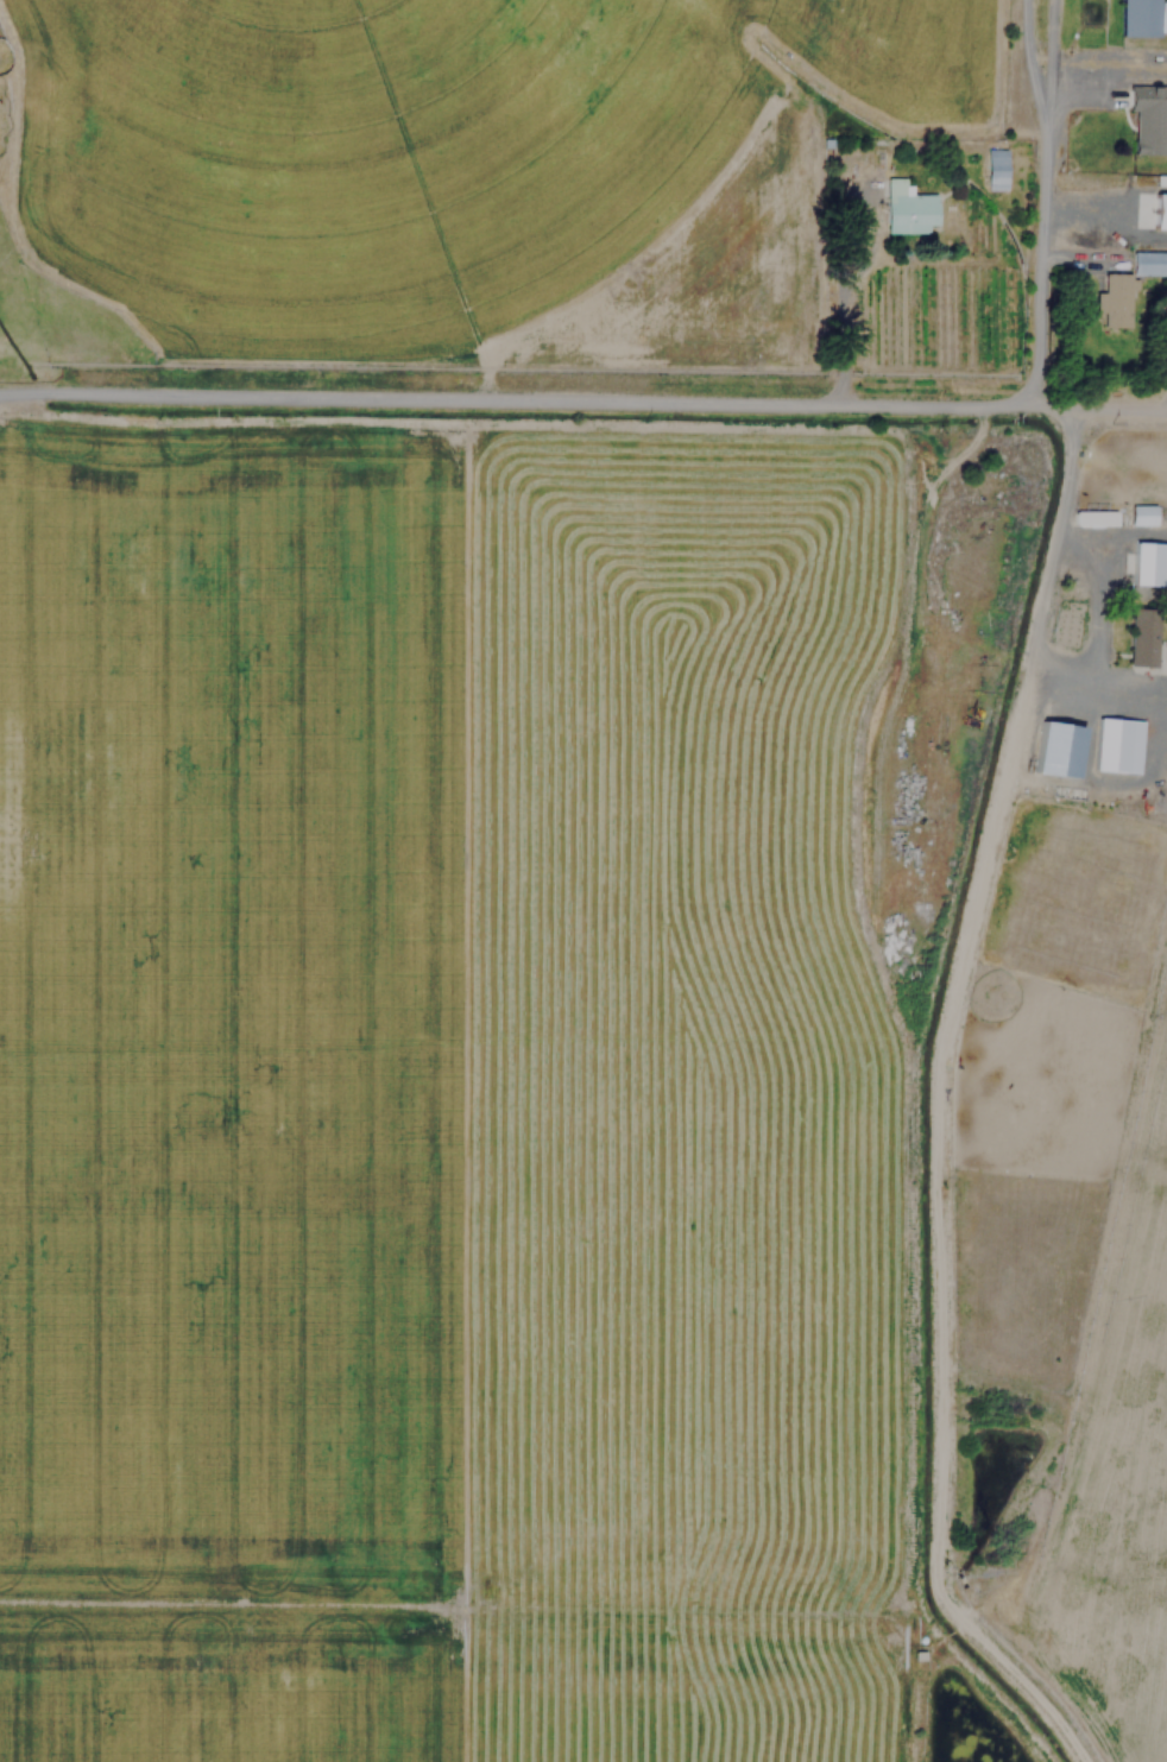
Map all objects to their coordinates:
building: (1163, 17)
building: (1135, 18)
building: (1148, 119)
building: (993, 168)
crop: (510, 191)
road: (1043, 201)
building: (904, 207)
building: (1152, 209)
building: (1148, 263)
building: (1114, 299)
road: (516, 398)
road: (1099, 408)
building: (1141, 514)
building: (1147, 563)
building: (1141, 636)
building: (1114, 744)
building: (1049, 750)

